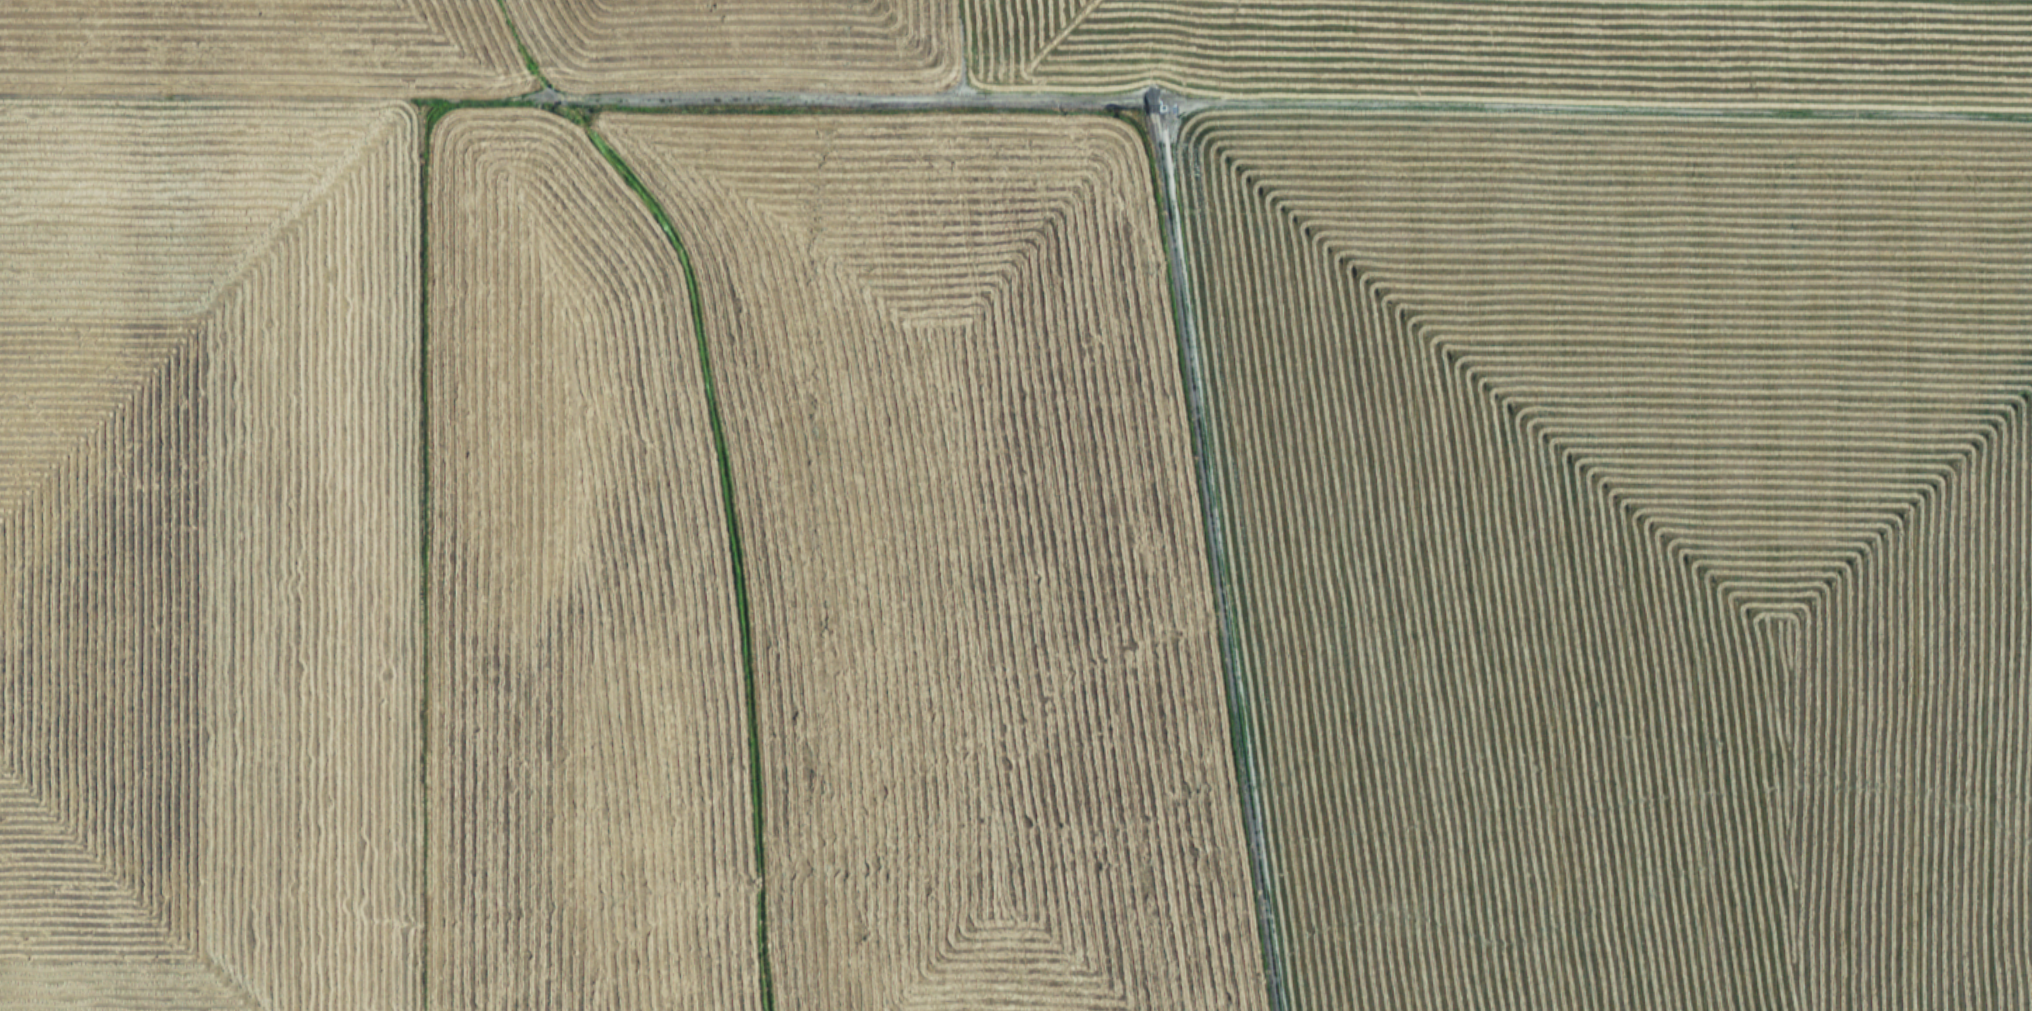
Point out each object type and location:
crop: (1016, 505)

